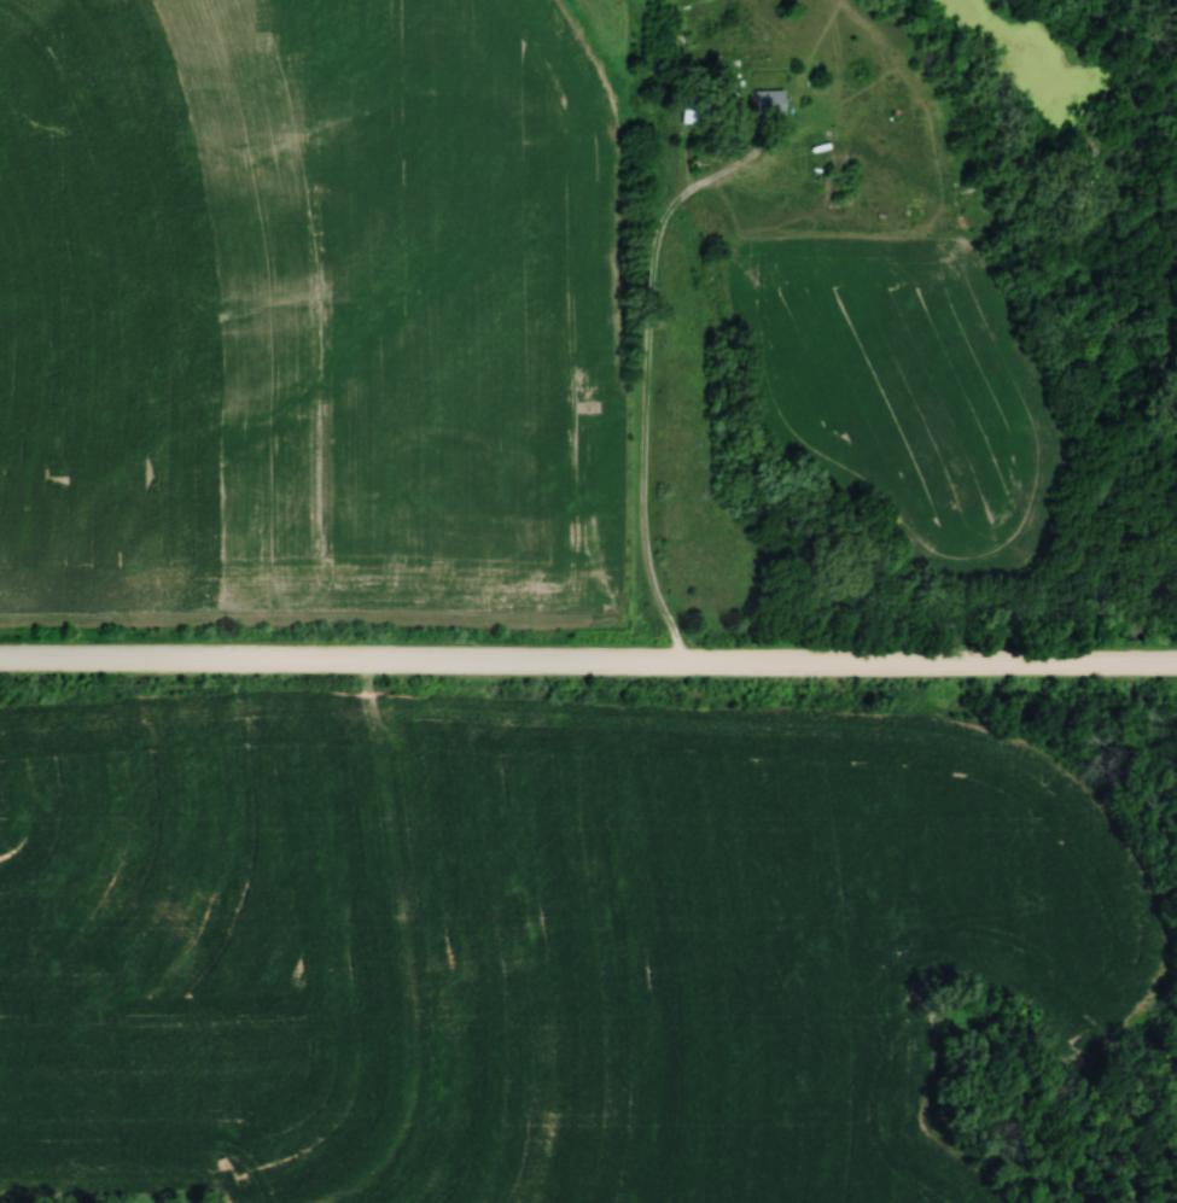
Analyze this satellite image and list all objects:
building: (758, 101)
building: (686, 109)
road: (647, 378)
road: (588, 660)

